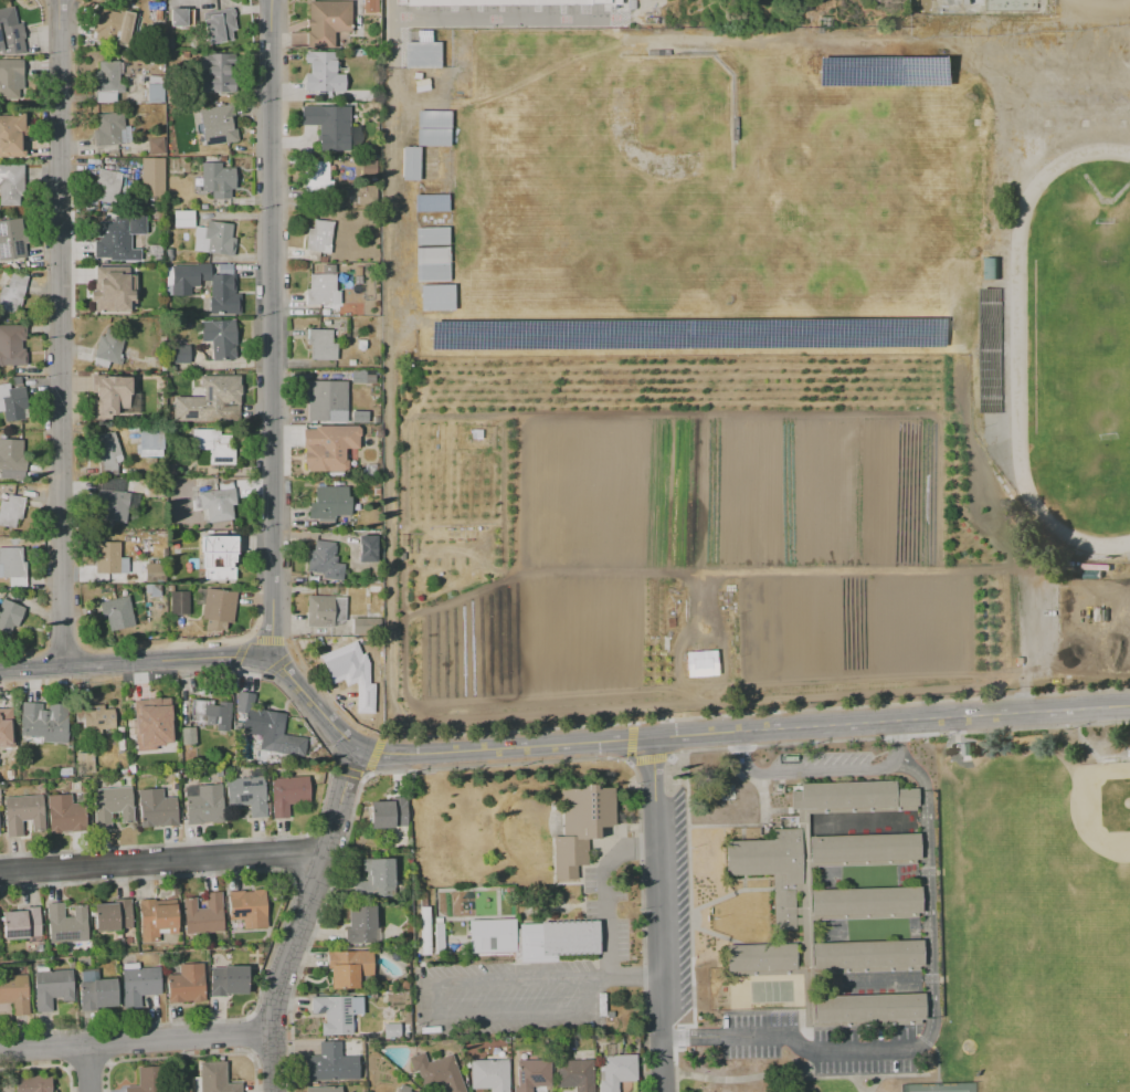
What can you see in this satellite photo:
building: (509, 2)
building: (1, 3)
building: (387, 12)
building: (177, 17)
building: (326, 21)
building: (112, 25)
building: (218, 25)
building: (10, 35)
building: (421, 51)
building: (219, 72)
building: (323, 72)
building: (106, 76)
building: (11, 78)
building: (422, 88)
building: (154, 92)
building: (190, 124)
building: (217, 124)
building: (328, 126)
building: (107, 128)
building: (11, 136)
park: (650, 140)
building: (155, 146)
building: (427, 162)
building: (369, 168)
building: (151, 177)
building: (315, 177)
building: (215, 179)
building: (11, 183)
building: (106, 186)
building: (367, 196)
building: (430, 202)
building: (183, 218)
building: (116, 237)
building: (319, 237)
building: (220, 238)
building: (11, 239)
building: (224, 269)
building: (187, 277)
building: (113, 288)
building: (13, 290)
building: (321, 290)
building: (223, 294)
road: (272, 330)
road: (62, 335)
building: (219, 338)
building: (321, 344)
building: (361, 344)
building: (109, 345)
building: (11, 347)
park: (1081, 347)
track: (1020, 348)
building: (991, 349)
building: (178, 355)
building: (361, 376)
building: (151, 381)
building: (115, 400)
building: (210, 400)
building: (327, 400)
building: (12, 401)
building: (359, 416)
building: (150, 442)
building: (214, 447)
building: (328, 447)
building: (108, 451)
building: (11, 459)
building: (150, 460)
building: (199, 482)
building: (224, 484)
building: (988, 486)
building: (218, 503)
building: (1000, 503)
building: (330, 504)
building: (116, 506)
building: (10, 508)
building: (460, 533)
building: (366, 548)
building: (219, 557)
building: (109, 558)
building: (325, 560)
building: (12, 566)
building: (155, 567)
building: (374, 587)
building: (152, 589)
building: (378, 601)
building: (179, 602)
building: (220, 607)
building: (325, 609)
building: (10, 611)
building: (117, 612)
building: (366, 626)
road: (1026, 639)
road: (199, 659)
building: (342, 662)
building: (700, 663)
building: (366, 696)
road: (1025, 697)
building: (211, 713)
building: (95, 718)
building: (0, 721)
building: (43, 723)
building: (151, 725)
building: (268, 727)
road: (743, 731)
building: (188, 735)
road: (1091, 748)
parking lot: (820, 760)
building: (84, 762)
road: (824, 771)
building: (287, 794)
building: (852, 795)
building: (245, 796)
building: (203, 804)
building: (112, 805)
building: (156, 808)
park: (1102, 808)
building: (388, 812)
building: (23, 813)
building: (64, 813)
building: (581, 825)
building: (863, 847)
road: (163, 859)
building: (770, 869)
building: (379, 872)
building: (866, 901)
road: (927, 903)
parking lot: (683, 906)
building: (247, 907)
building: (202, 913)
road: (659, 914)
building: (113, 915)
building: (155, 920)
road: (304, 920)
building: (21, 923)
building: (66, 923)
park: (994, 924)
building: (361, 925)
building: (424, 931)
building: (492, 935)
building: (569, 937)
building: (439, 939)
road: (605, 941)
building: (866, 954)
building: (760, 956)
building: (348, 968)
road: (626, 979)
building: (226, 980)
road: (509, 981)
building: (138, 983)
building: (186, 984)
building: (52, 987)
building: (14, 993)
building: (96, 993)
building: (868, 1008)
building: (336, 1012)
road: (510, 1021)
building: (391, 1029)
road: (788, 1039)
parking lot: (821, 1043)
road: (134, 1047)
building: (330, 1063)
road: (93, 1071)
building: (615, 1071)
building: (437, 1072)
building: (488, 1074)
building: (531, 1074)
building: (573, 1074)
road: (770, 1074)
road: (911, 1074)
road: (864, 1075)
building: (215, 1078)
building: (146, 1080)
building: (32, 1083)
park: (937, 1088)
building: (324, 1089)
building: (403, 1089)

